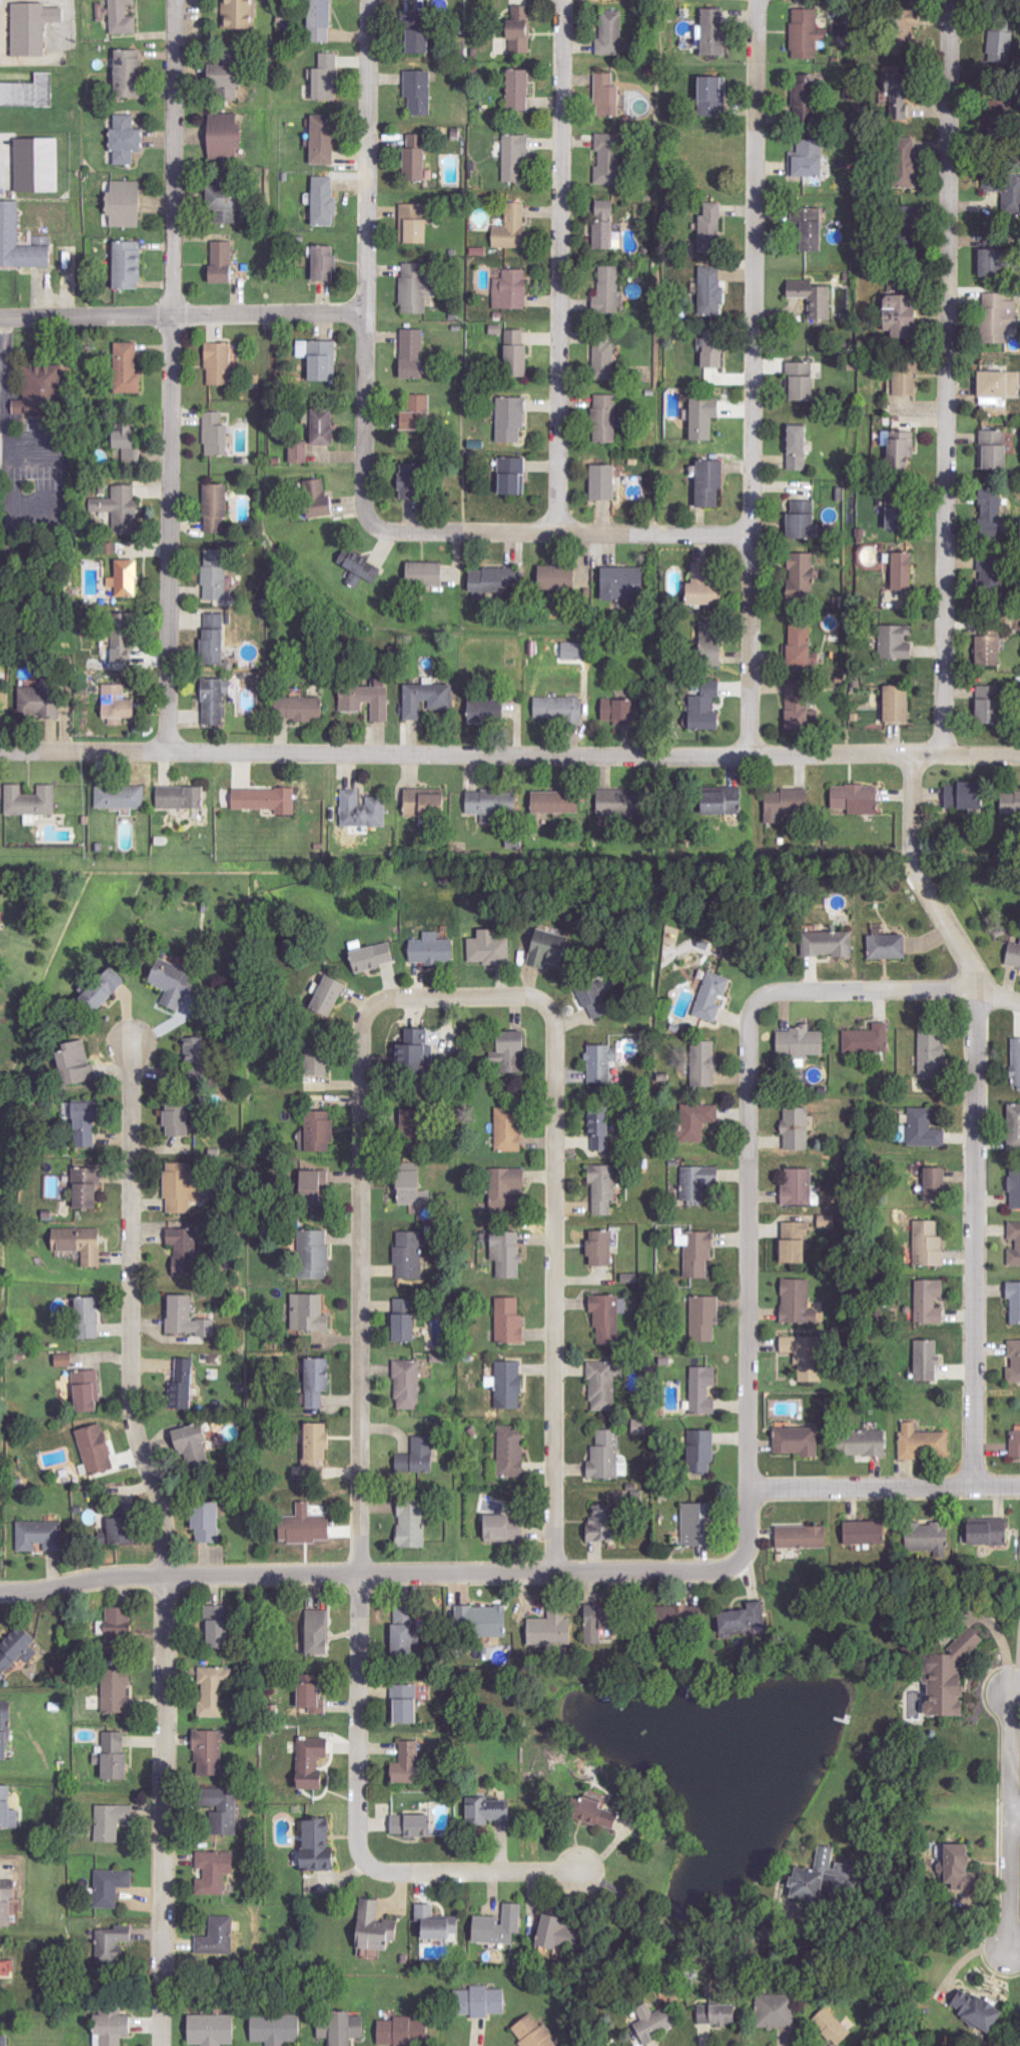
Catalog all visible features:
building: (104, 12)
building: (436, 12)
building: (242, 14)
building: (126, 18)
building: (325, 20)
building: (38, 28)
building: (517, 28)
building: (711, 31)
building: (609, 33)
building: (805, 33)
building: (420, 43)
building: (999, 46)
building: (133, 74)
building: (330, 78)
building: (234, 80)
building: (516, 89)
building: (417, 91)
building: (30, 93)
building: (605, 94)
building: (706, 95)
building: (803, 97)
building: (893, 100)
building: (232, 135)
road: (175, 136)
building: (132, 140)
building: (324, 140)
building: (514, 157)
building: (605, 157)
building: (413, 158)
building: (807, 159)
building: (902, 162)
building: (43, 165)
building: (1010, 196)
building: (321, 200)
building: (232, 204)
building: (130, 205)
building: (901, 215)
building: (710, 221)
building: (412, 223)
building: (603, 224)
building: (807, 227)
building: (511, 228)
building: (45, 241)
building: (21, 242)
road: (365, 250)
building: (986, 261)
building: (223, 262)
building: (321, 262)
building: (132, 266)
road: (563, 266)
building: (414, 288)
building: (510, 289)
building: (607, 290)
building: (709, 290)
building: (813, 301)
road: (182, 316)
building: (893, 317)
building: (997, 317)
building: (709, 349)
building: (512, 350)
building: (410, 354)
building: (603, 355)
building: (317, 357)
building: (217, 364)
building: (130, 369)
building: (902, 376)
road: (945, 376)
road: (2, 377)
road: (752, 377)
building: (799, 381)
building: (997, 384)
building: (24, 407)
building: (415, 414)
building: (702, 417)
building: (510, 418)
building: (604, 418)
building: (320, 426)
building: (214, 434)
building: (125, 442)
building: (795, 447)
building: (897, 447)
building: (992, 449)
building: (298, 452)
building: (510, 475)
building: (406, 481)
building: (601, 482)
building: (707, 482)
building: (313, 498)
building: (120, 508)
building: (214, 508)
road: (171, 512)
building: (990, 512)
building: (892, 518)
building: (798, 520)
road: (549, 533)
building: (358, 568)
building: (900, 571)
building: (422, 573)
building: (214, 575)
building: (800, 577)
building: (553, 578)
building: (124, 579)
building: (490, 580)
building: (619, 582)
building: (699, 591)
building: (121, 615)
building: (211, 640)
building: (895, 642)
building: (122, 647)
building: (798, 647)
building: (986, 650)
building: (572, 651)
building: (706, 652)
building: (425, 699)
building: (213, 700)
building: (367, 700)
building: (38, 702)
building: (115, 704)
building: (894, 704)
building: (985, 704)
building: (702, 705)
building: (297, 708)
building: (557, 709)
building: (483, 710)
building: (616, 711)
building: (796, 716)
road: (510, 755)
building: (960, 796)
building: (119, 797)
building: (178, 797)
building: (853, 799)
building: (30, 800)
building: (264, 800)
building: (553, 802)
building: (719, 802)
building: (785, 802)
building: (1010, 802)
building: (612, 803)
building: (421, 804)
building: (363, 809)
building: (2, 915)
building: (828, 944)
building: (885, 947)
building: (488, 948)
building: (431, 949)
building: (543, 949)
building: (1013, 955)
building: (371, 957)
building: (169, 983)
building: (110, 990)
road: (894, 990)
building: (325, 997)
building: (711, 997)
road: (455, 999)
building: (591, 1001)
building: (866, 1040)
building: (799, 1042)
building: (192, 1049)
building: (411, 1050)
building: (509, 1051)
building: (931, 1053)
building: (82, 1063)
building: (600, 1064)
building: (703, 1064)
building: (1016, 1064)
building: (313, 1066)
road: (978, 1110)
building: (184, 1117)
building: (404, 1120)
building: (696, 1121)
building: (92, 1122)
building: (508, 1125)
building: (597, 1127)
building: (1013, 1127)
building: (795, 1129)
building: (924, 1129)
building: (317, 1131)
building: (696, 1181)
building: (506, 1184)
building: (932, 1184)
building: (1014, 1186)
building: (92, 1187)
building: (182, 1187)
building: (312, 1187)
building: (796, 1188)
building: (601, 1189)
building: (410, 1190)
road: (751, 1239)
building: (792, 1244)
building: (927, 1244)
building: (1018, 1244)
building: (86, 1245)
building: (597, 1249)
building: (190, 1250)
building: (696, 1253)
building: (408, 1254)
building: (505, 1254)
building: (313, 1255)
building: (630, 1278)
road: (557, 1279)
building: (797, 1301)
building: (1013, 1301)
building: (928, 1302)
road: (133, 1311)
building: (308, 1314)
building: (93, 1317)
building: (190, 1317)
building: (607, 1317)
building: (704, 1318)
building: (508, 1320)
building: (400, 1322)
building: (801, 1358)
building: (67, 1361)
building: (924, 1361)
building: (1014, 1361)
building: (189, 1383)
building: (313, 1383)
building: (407, 1385)
building: (508, 1385)
building: (602, 1386)
building: (92, 1390)
building: (702, 1391)
road: (360, 1417)
building: (197, 1441)
building: (795, 1441)
building: (921, 1442)
building: (861, 1443)
building: (1015, 1443)
building: (100, 1450)
building: (314, 1451)
building: (510, 1452)
building: (700, 1452)
building: (603, 1456)
building: (414, 1458)
road: (884, 1487)
building: (214, 1522)
building: (408, 1524)
building: (692, 1524)
building: (310, 1526)
building: (598, 1526)
building: (498, 1529)
building: (128, 1531)
building: (864, 1534)
building: (43, 1536)
building: (987, 1536)
building: (801, 1537)
building: (925, 1537)
road: (408, 1574)
building: (672, 1618)
building: (741, 1619)
building: (482, 1622)
building: (592, 1624)
building: (227, 1627)
building: (548, 1630)
building: (401, 1631)
building: (121, 1632)
building: (324, 1633)
building: (19, 1650)
building: (944, 1675)
building: (121, 1691)
building: (218, 1691)
building: (317, 1693)
building: (402, 1702)
building: (8, 1731)
building: (213, 1751)
building: (120, 1757)
building: (309, 1761)
building: (406, 1764)
building: (10, 1810)
building: (485, 1810)
building: (234, 1812)
building: (588, 1812)
road: (163, 1813)
road: (1012, 1816)
road: (1016, 1816)
building: (117, 1822)
building: (410, 1825)
building: (313, 1843)
building: (958, 1869)
building: (214, 1873)
road: (470, 1873)
building: (816, 1874)
building: (115, 1887)
building: (10, 1904)
building: (432, 1924)
building: (496, 1926)
building: (373, 1927)
building: (546, 1931)
road: (676, 1932)
building: (217, 1937)
building: (116, 1941)
building: (4, 1975)
building: (478, 2001)
building: (975, 2009)
building: (776, 2010)
building: (714, 2014)
building: (651, 2023)
building: (110, 2024)
building: (830, 2025)
building: (341, 2028)
building: (273, 2029)
building: (211, 2030)
building: (532, 2032)
building: (5, 2036)

